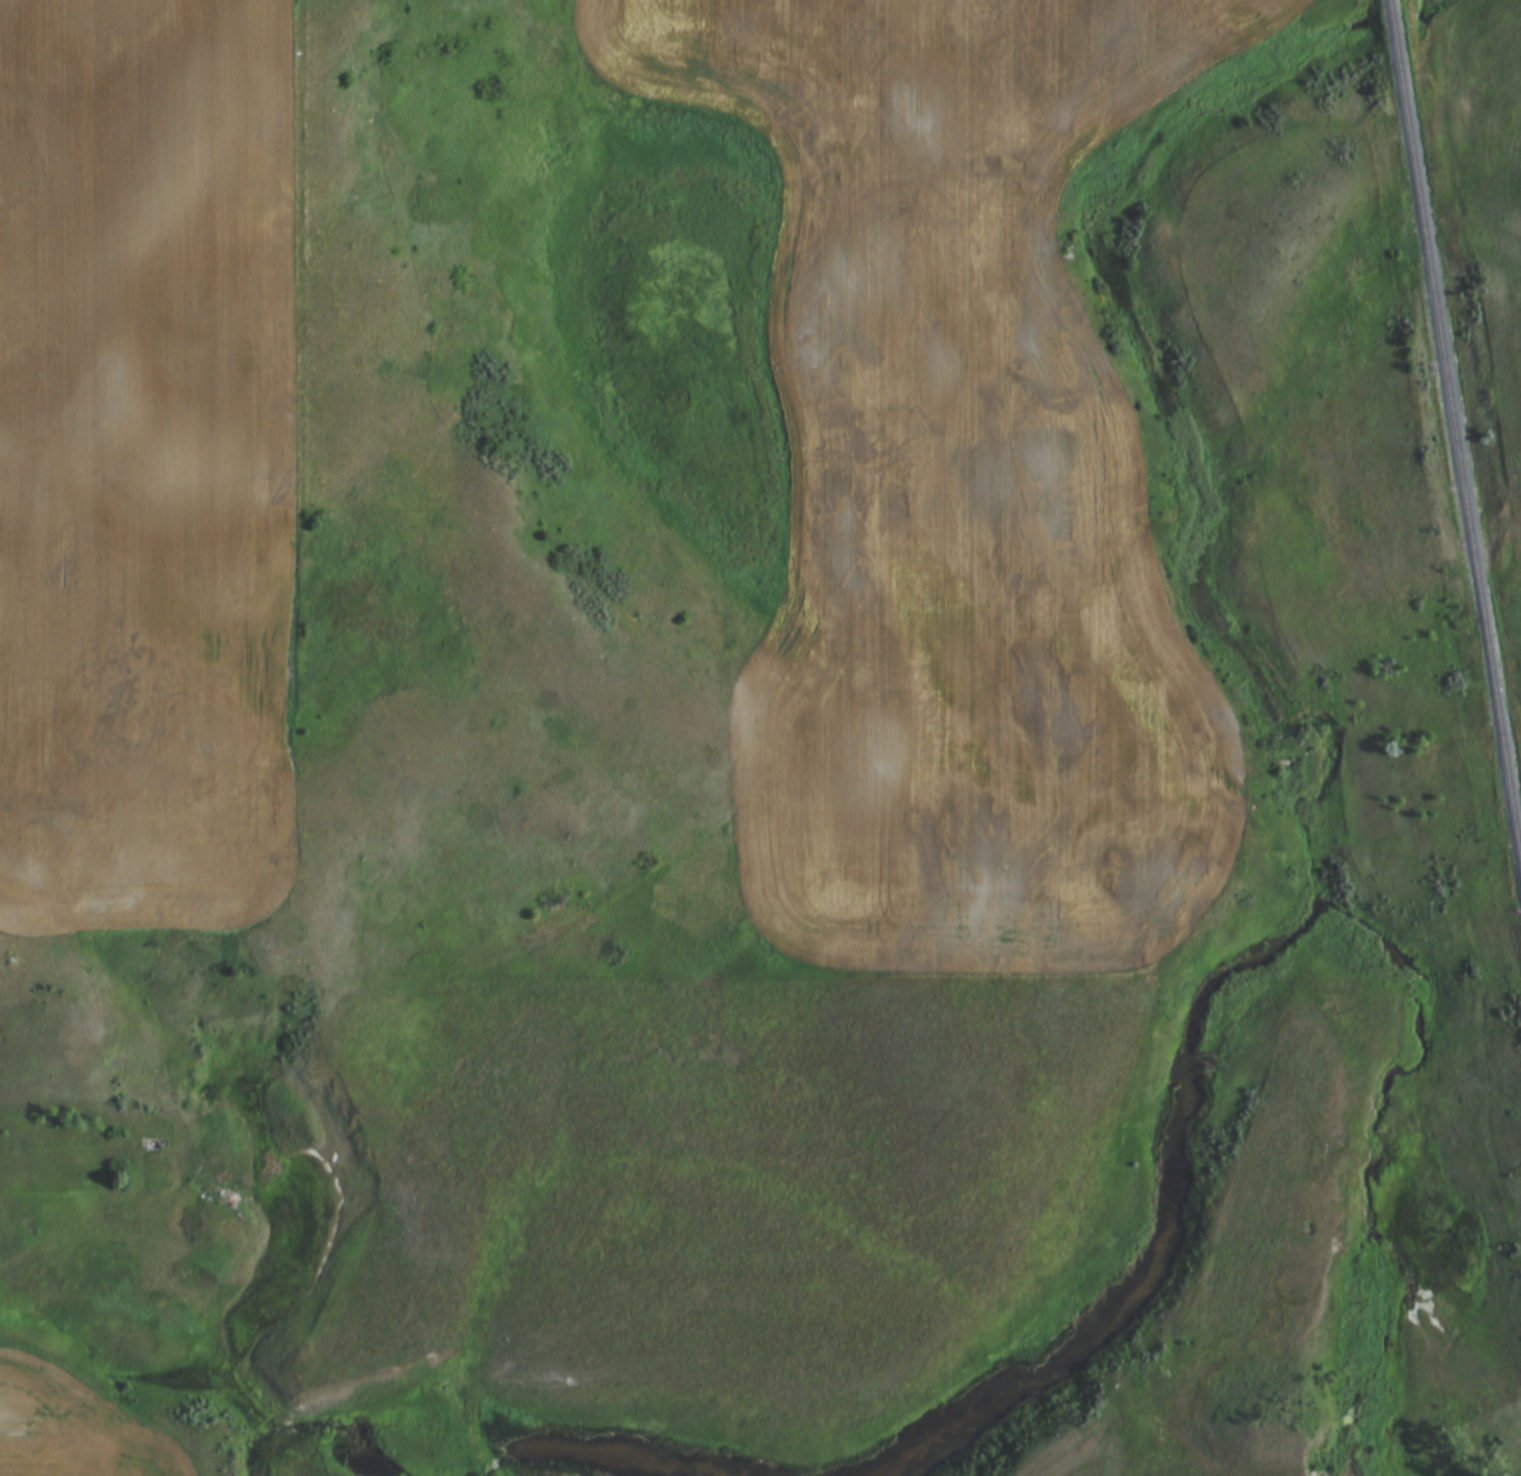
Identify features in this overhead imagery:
railway: (1455, 448)

